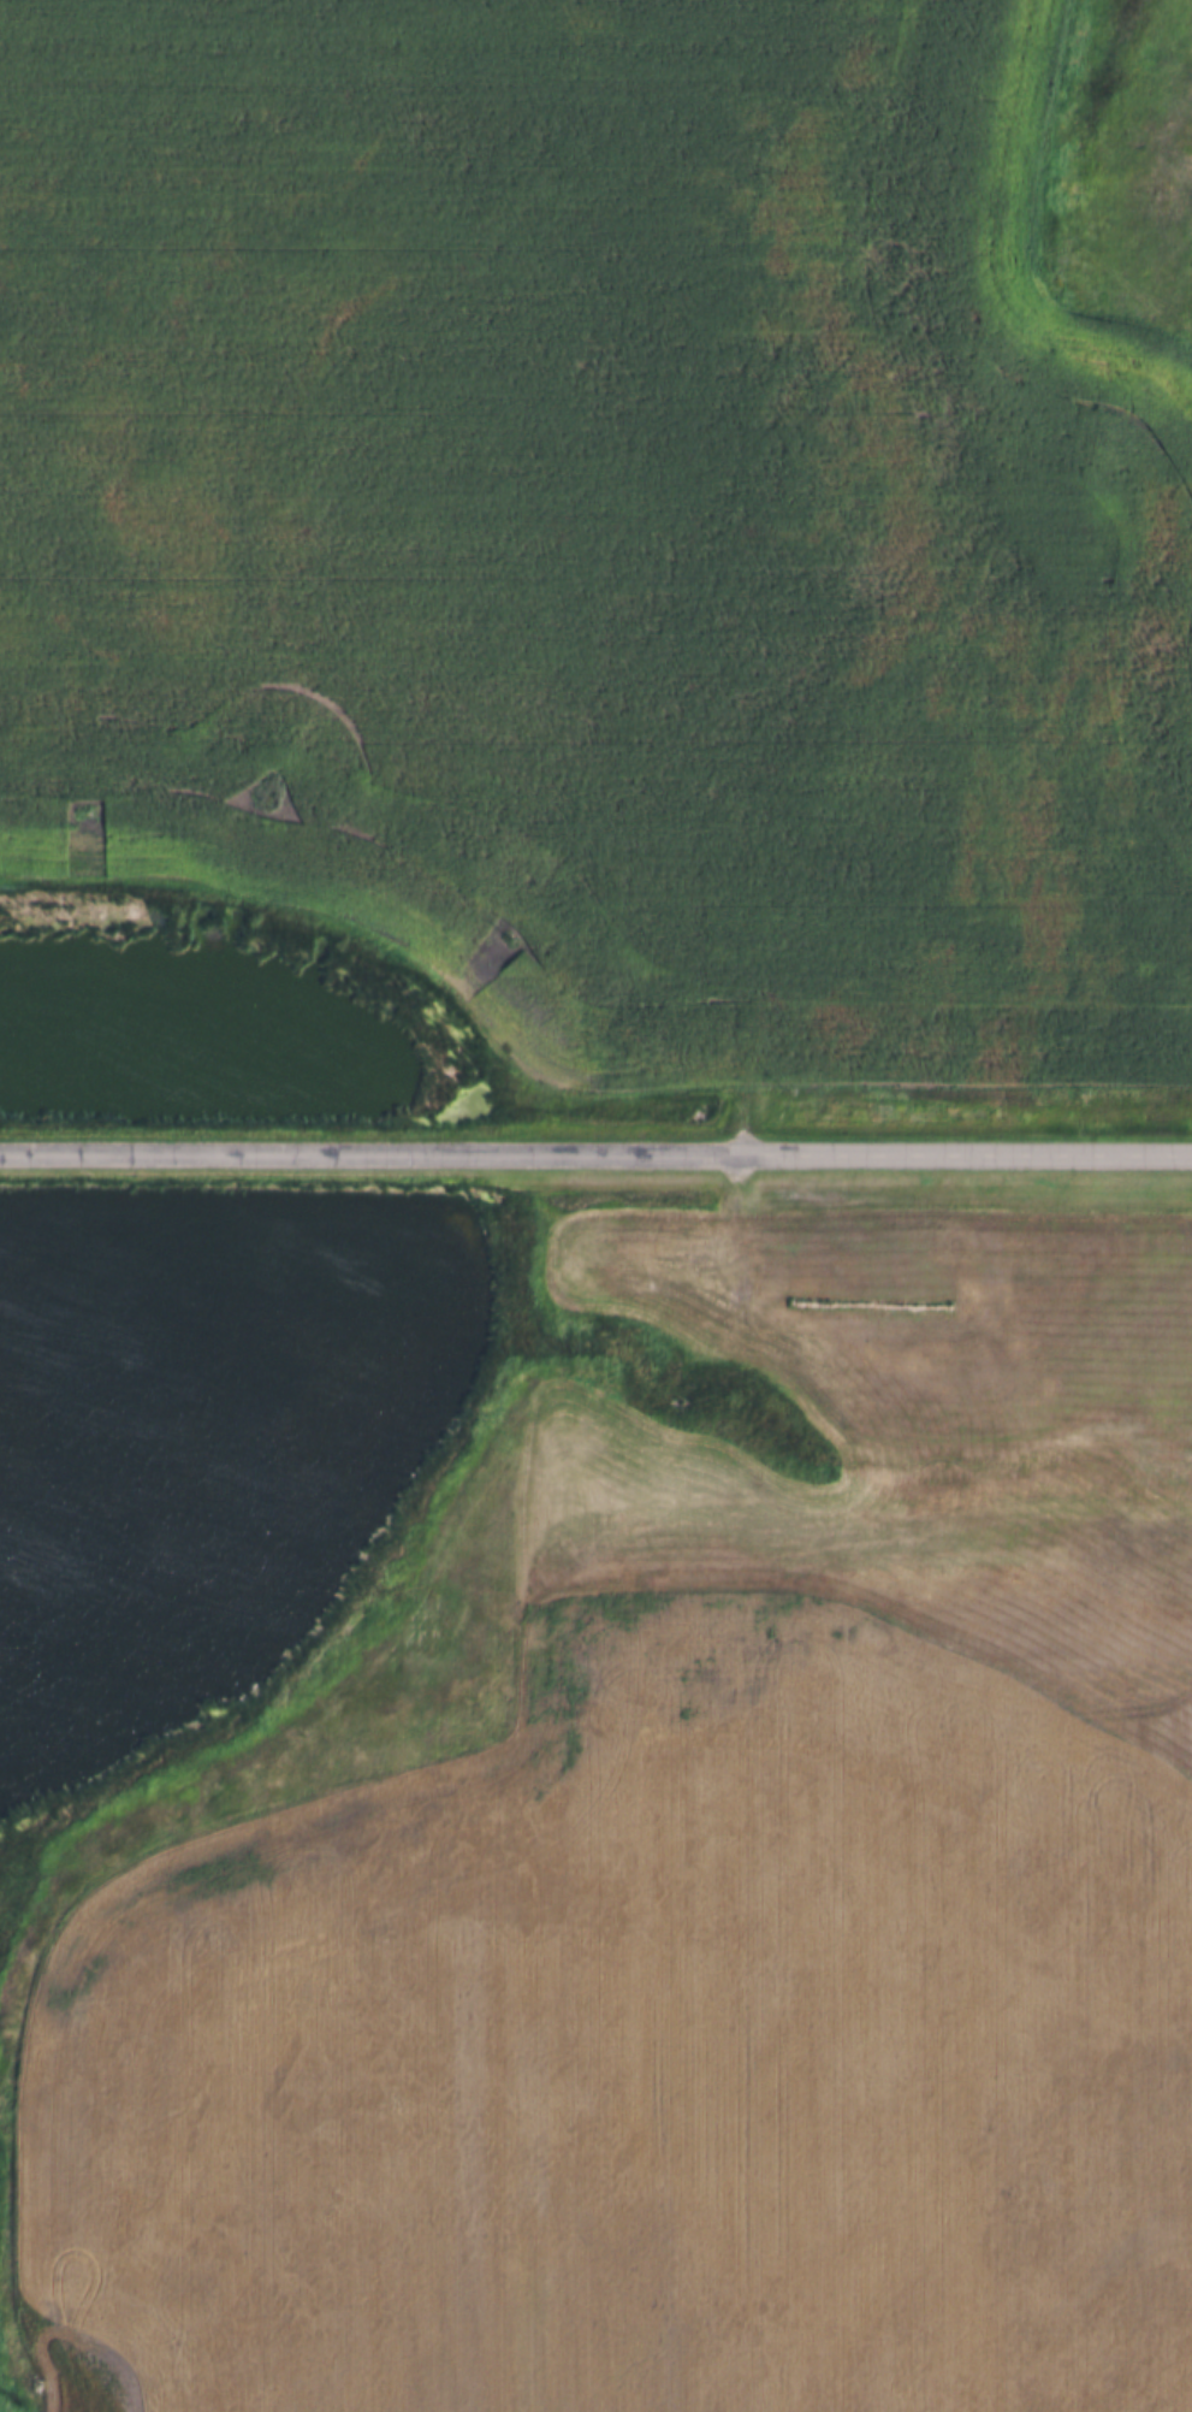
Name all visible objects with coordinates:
road: (995, 278)
road: (933, 1077)
road: (595, 1153)

